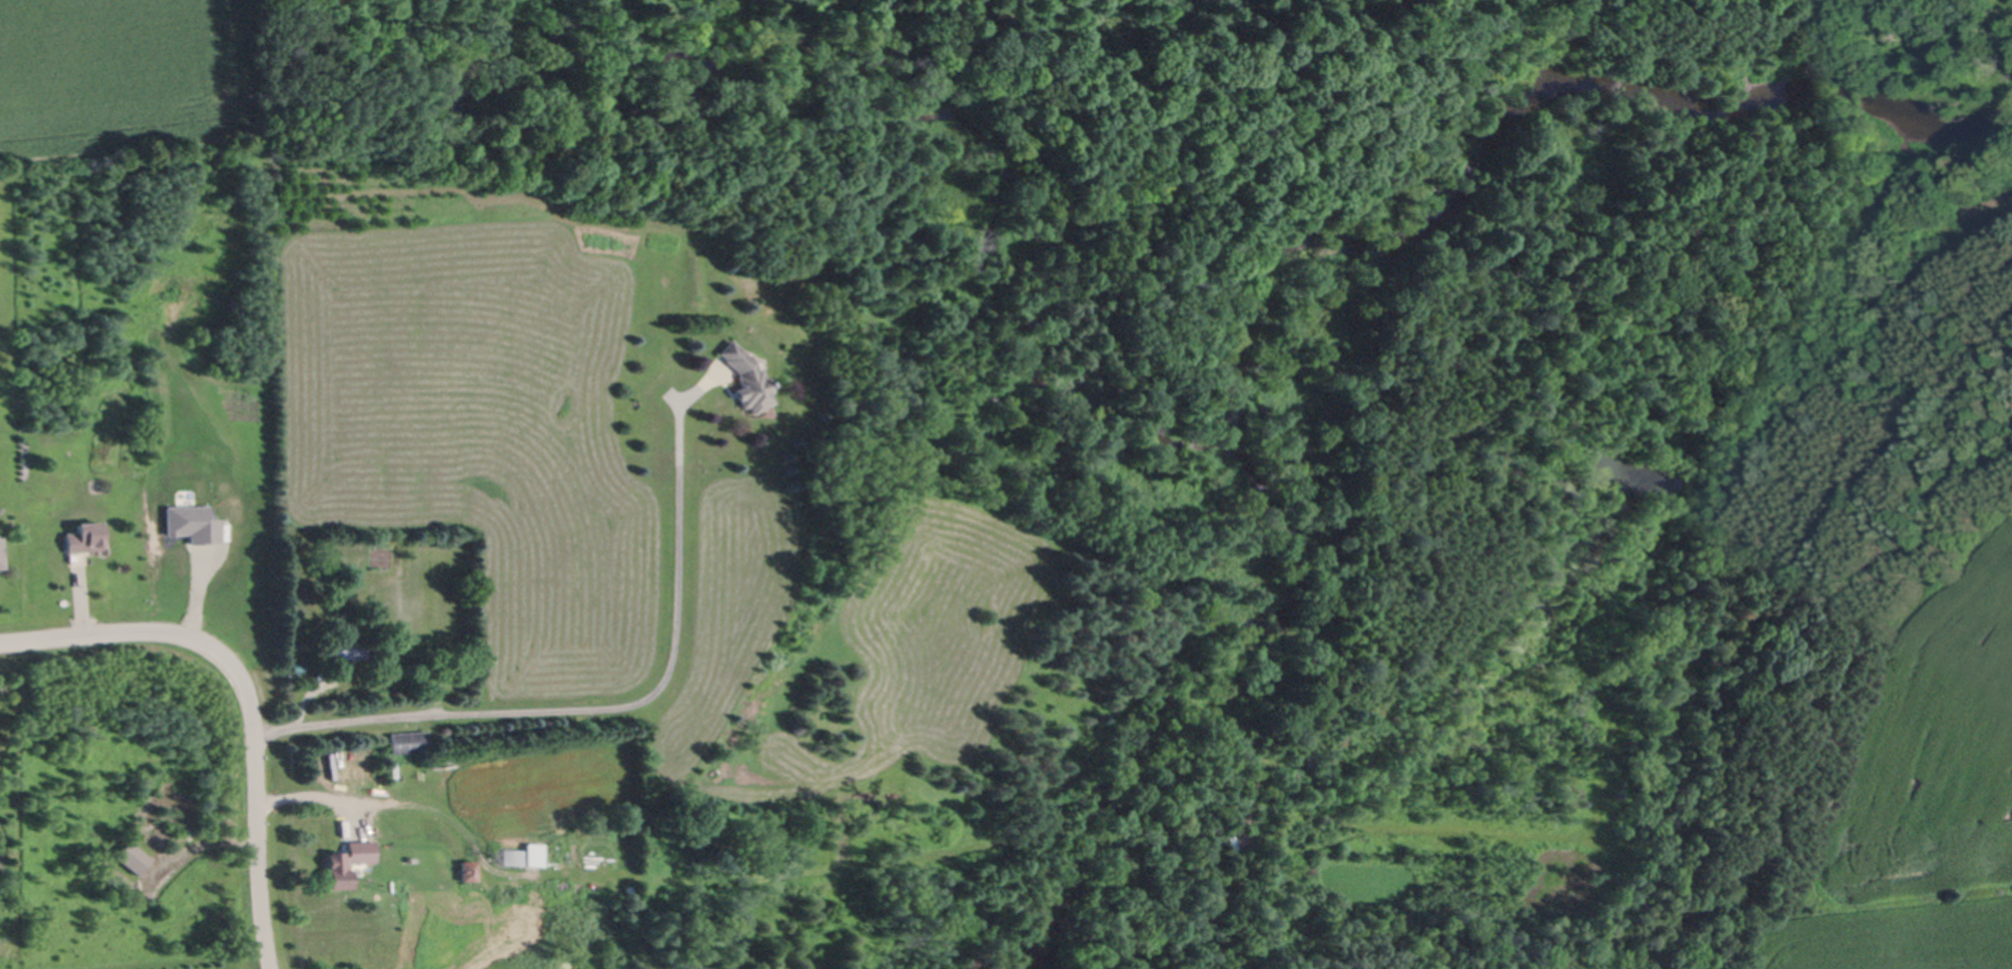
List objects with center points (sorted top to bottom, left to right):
crop: (124, 76)
river: (1341, 298)
building: (745, 378)
building: (189, 523)
building: (84, 537)
building: (1, 557)
building: (0, 570)
building: (424, 650)
building: (341, 652)
road: (244, 694)
road: (612, 706)
building: (407, 741)
building: (342, 760)
building: (1313, 761)
road: (311, 790)
building: (522, 855)
building: (132, 857)
building: (338, 869)
building: (467, 869)
building: (418, 905)

